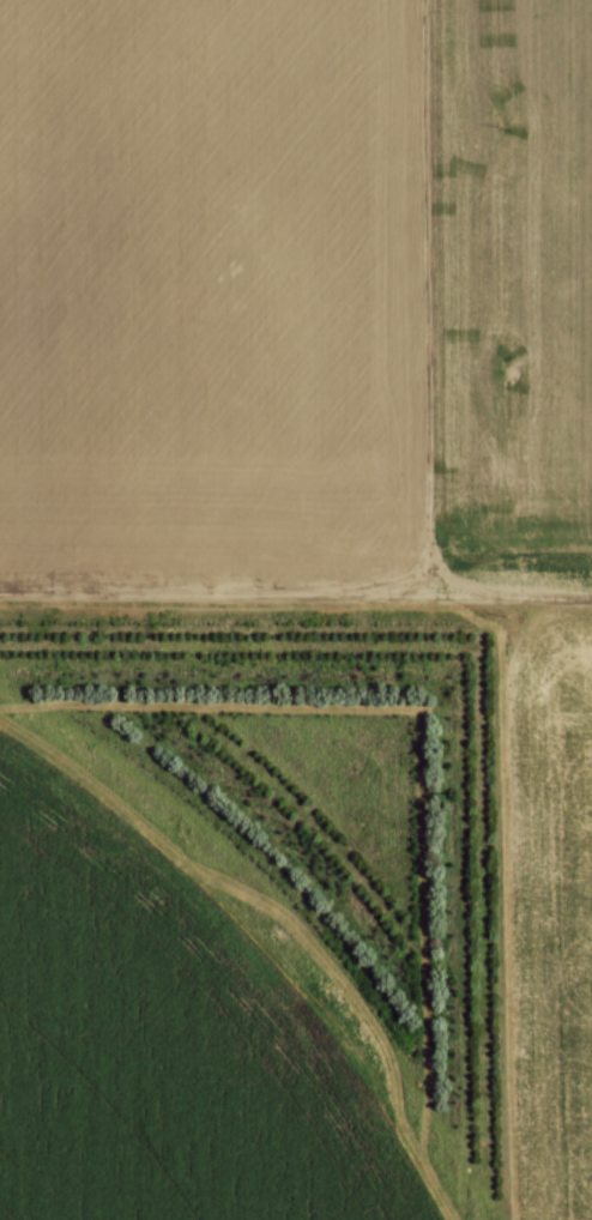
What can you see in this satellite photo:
crop: (295, 288)
road: (296, 596)
crop: (548, 911)
crop: (156, 1047)

